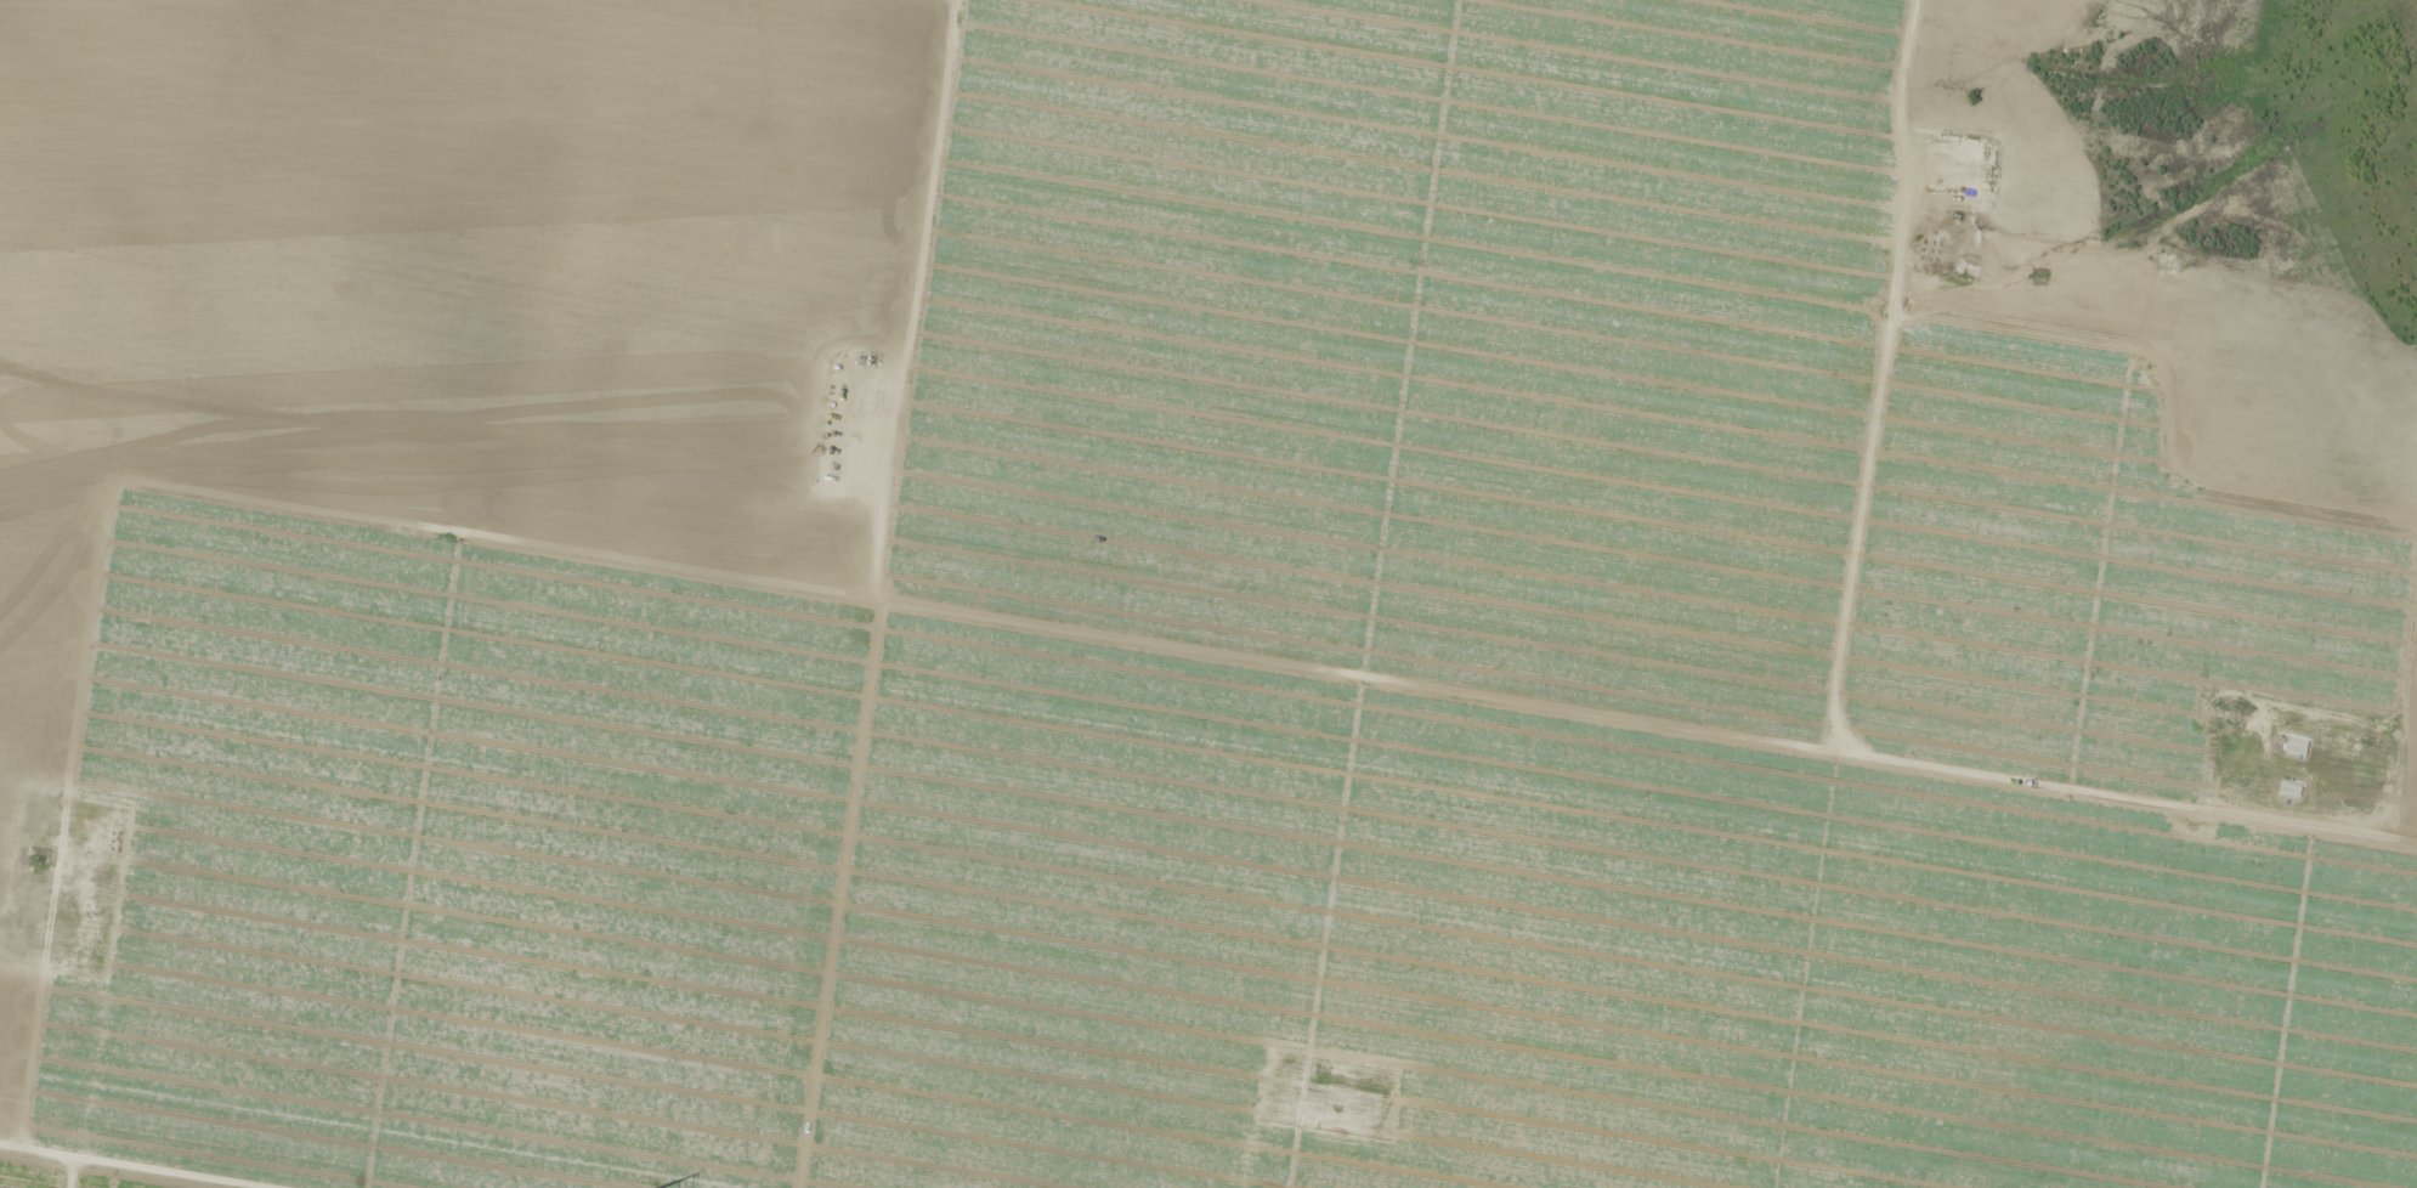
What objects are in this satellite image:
road: (534, 594)

